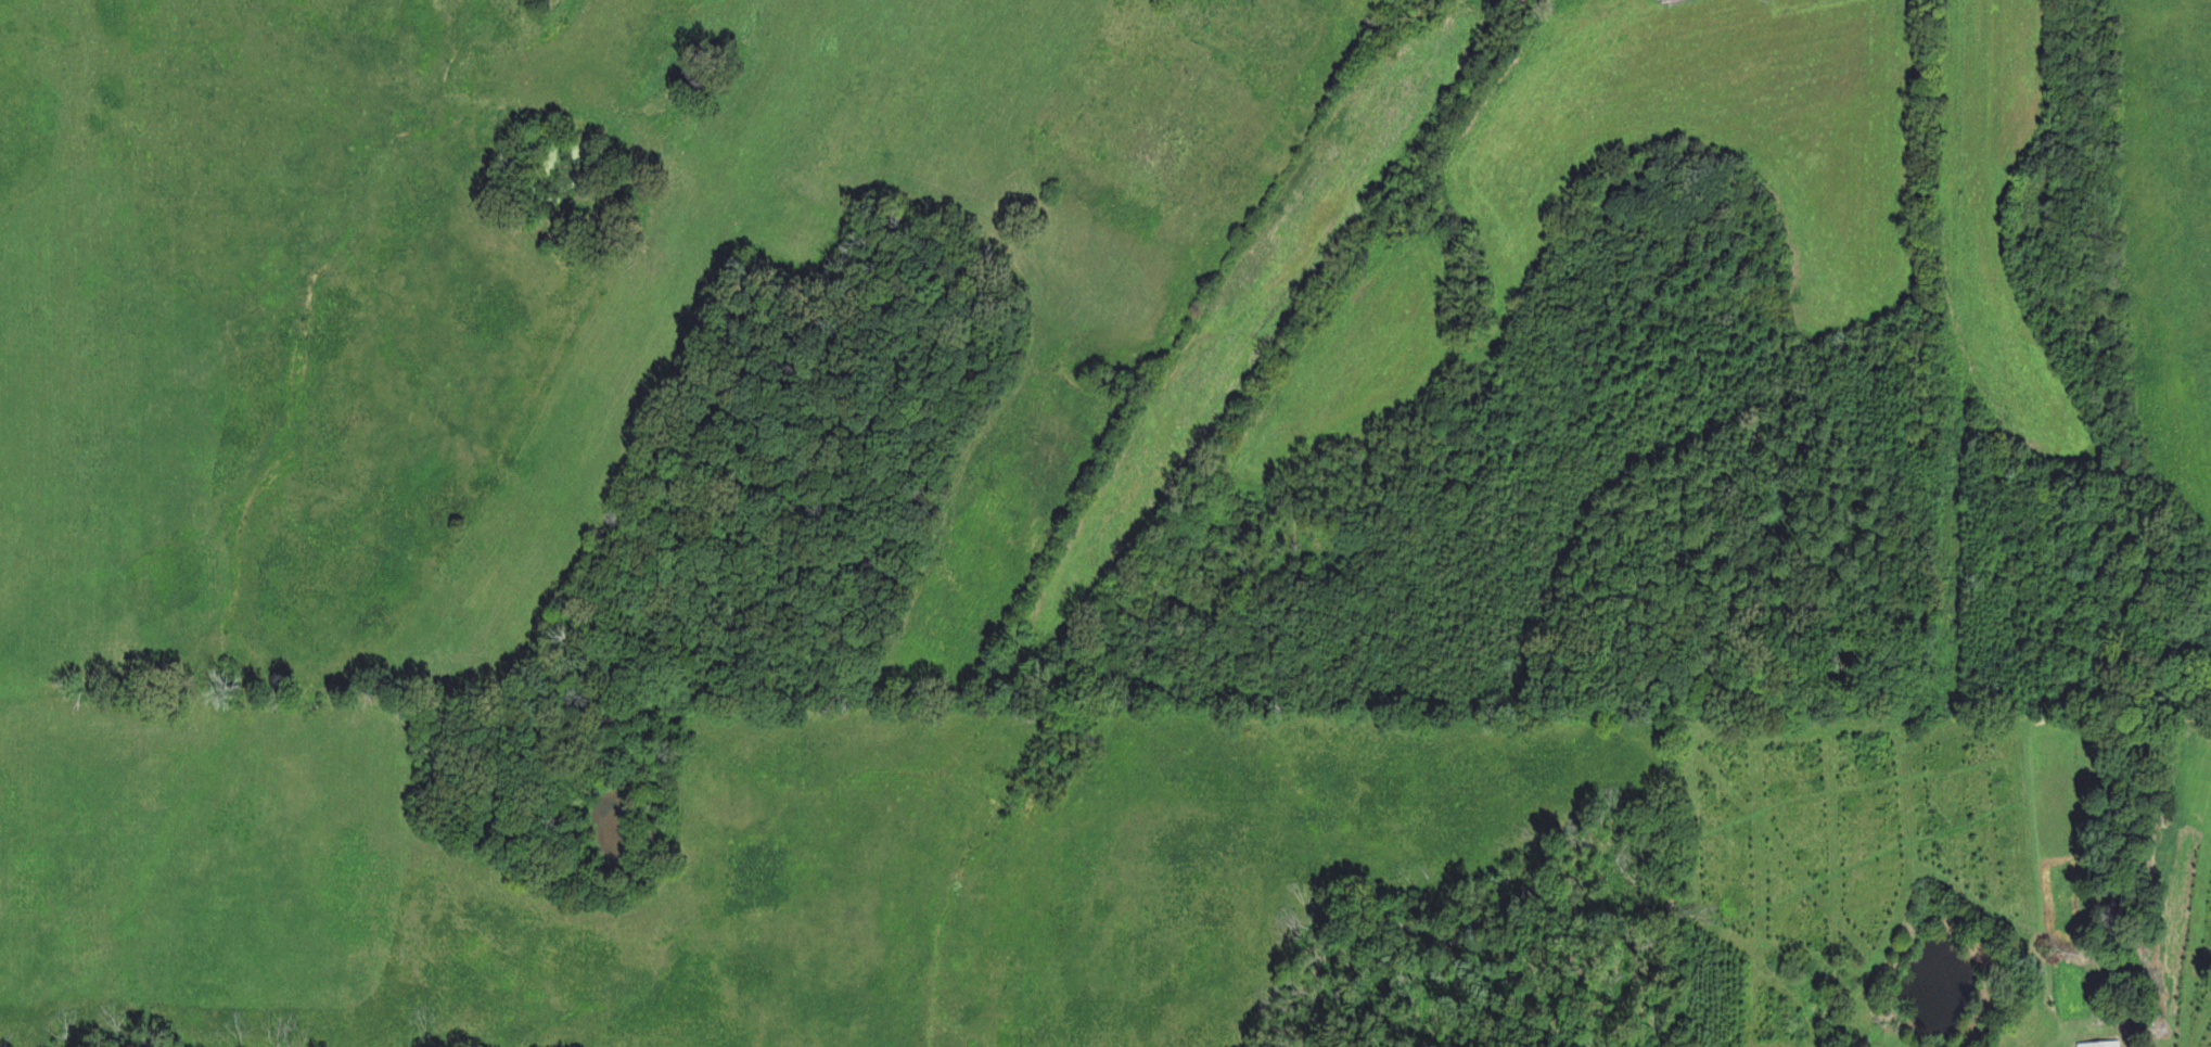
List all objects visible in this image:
building: (2100, 1044)

